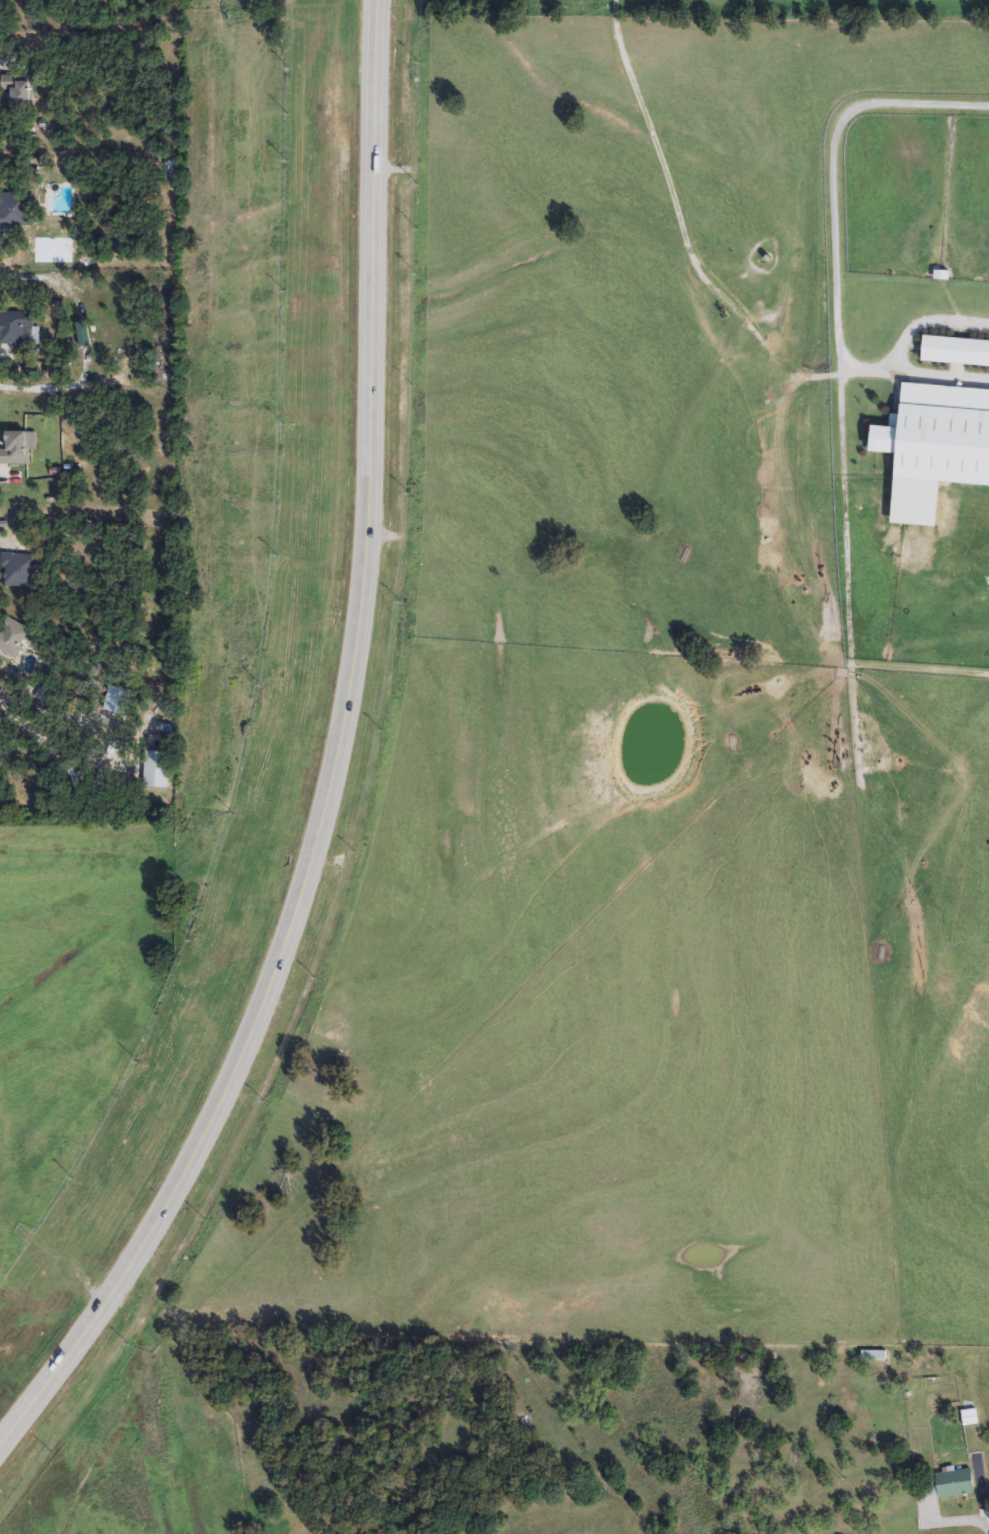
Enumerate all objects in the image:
road: (375, 36)
building: (22, 90)
road: (833, 168)
building: (15, 210)
building: (16, 329)
road: (908, 340)
building: (955, 351)
road: (941, 379)
building: (940, 435)
building: (18, 450)
building: (21, 570)
building: (14, 637)
road: (340, 746)
road: (45, 747)
building: (876, 1356)
road: (33, 1402)
building: (865, 1435)
building: (957, 1484)
road: (987, 1516)

